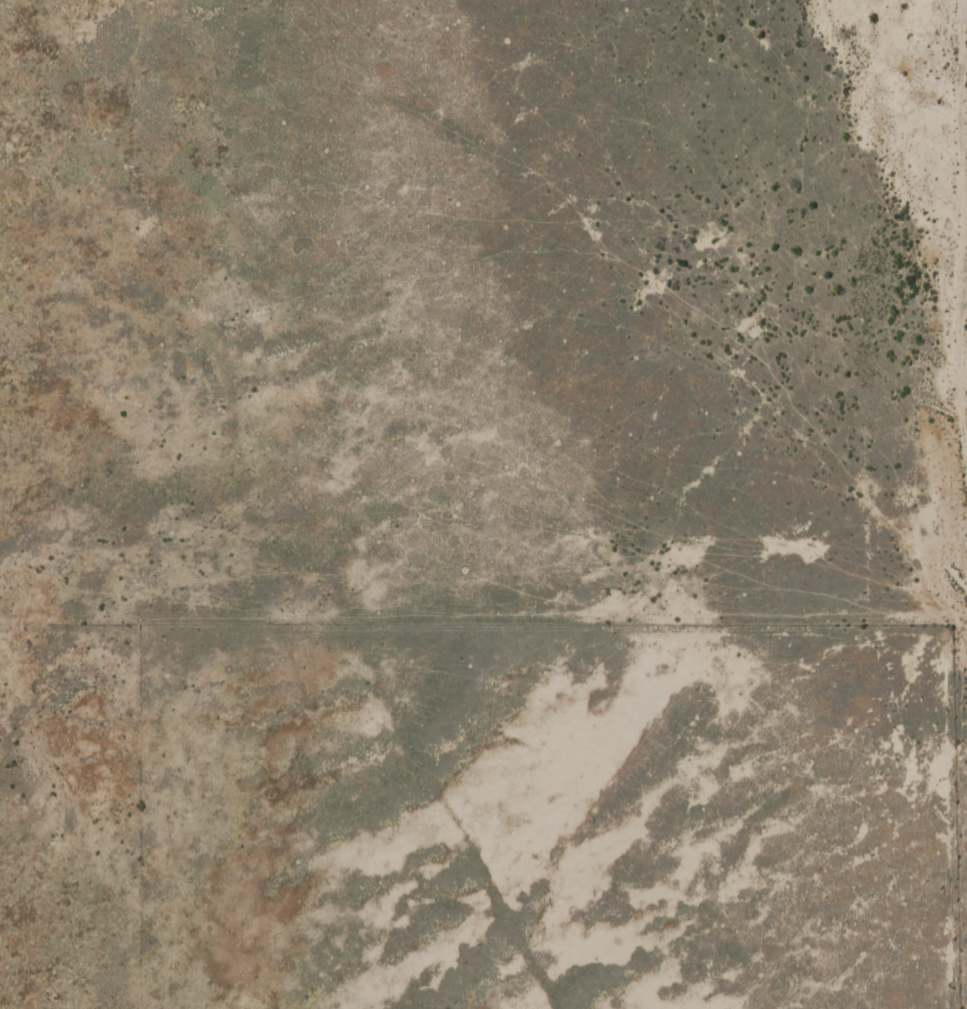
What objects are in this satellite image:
road: (887, 117)

